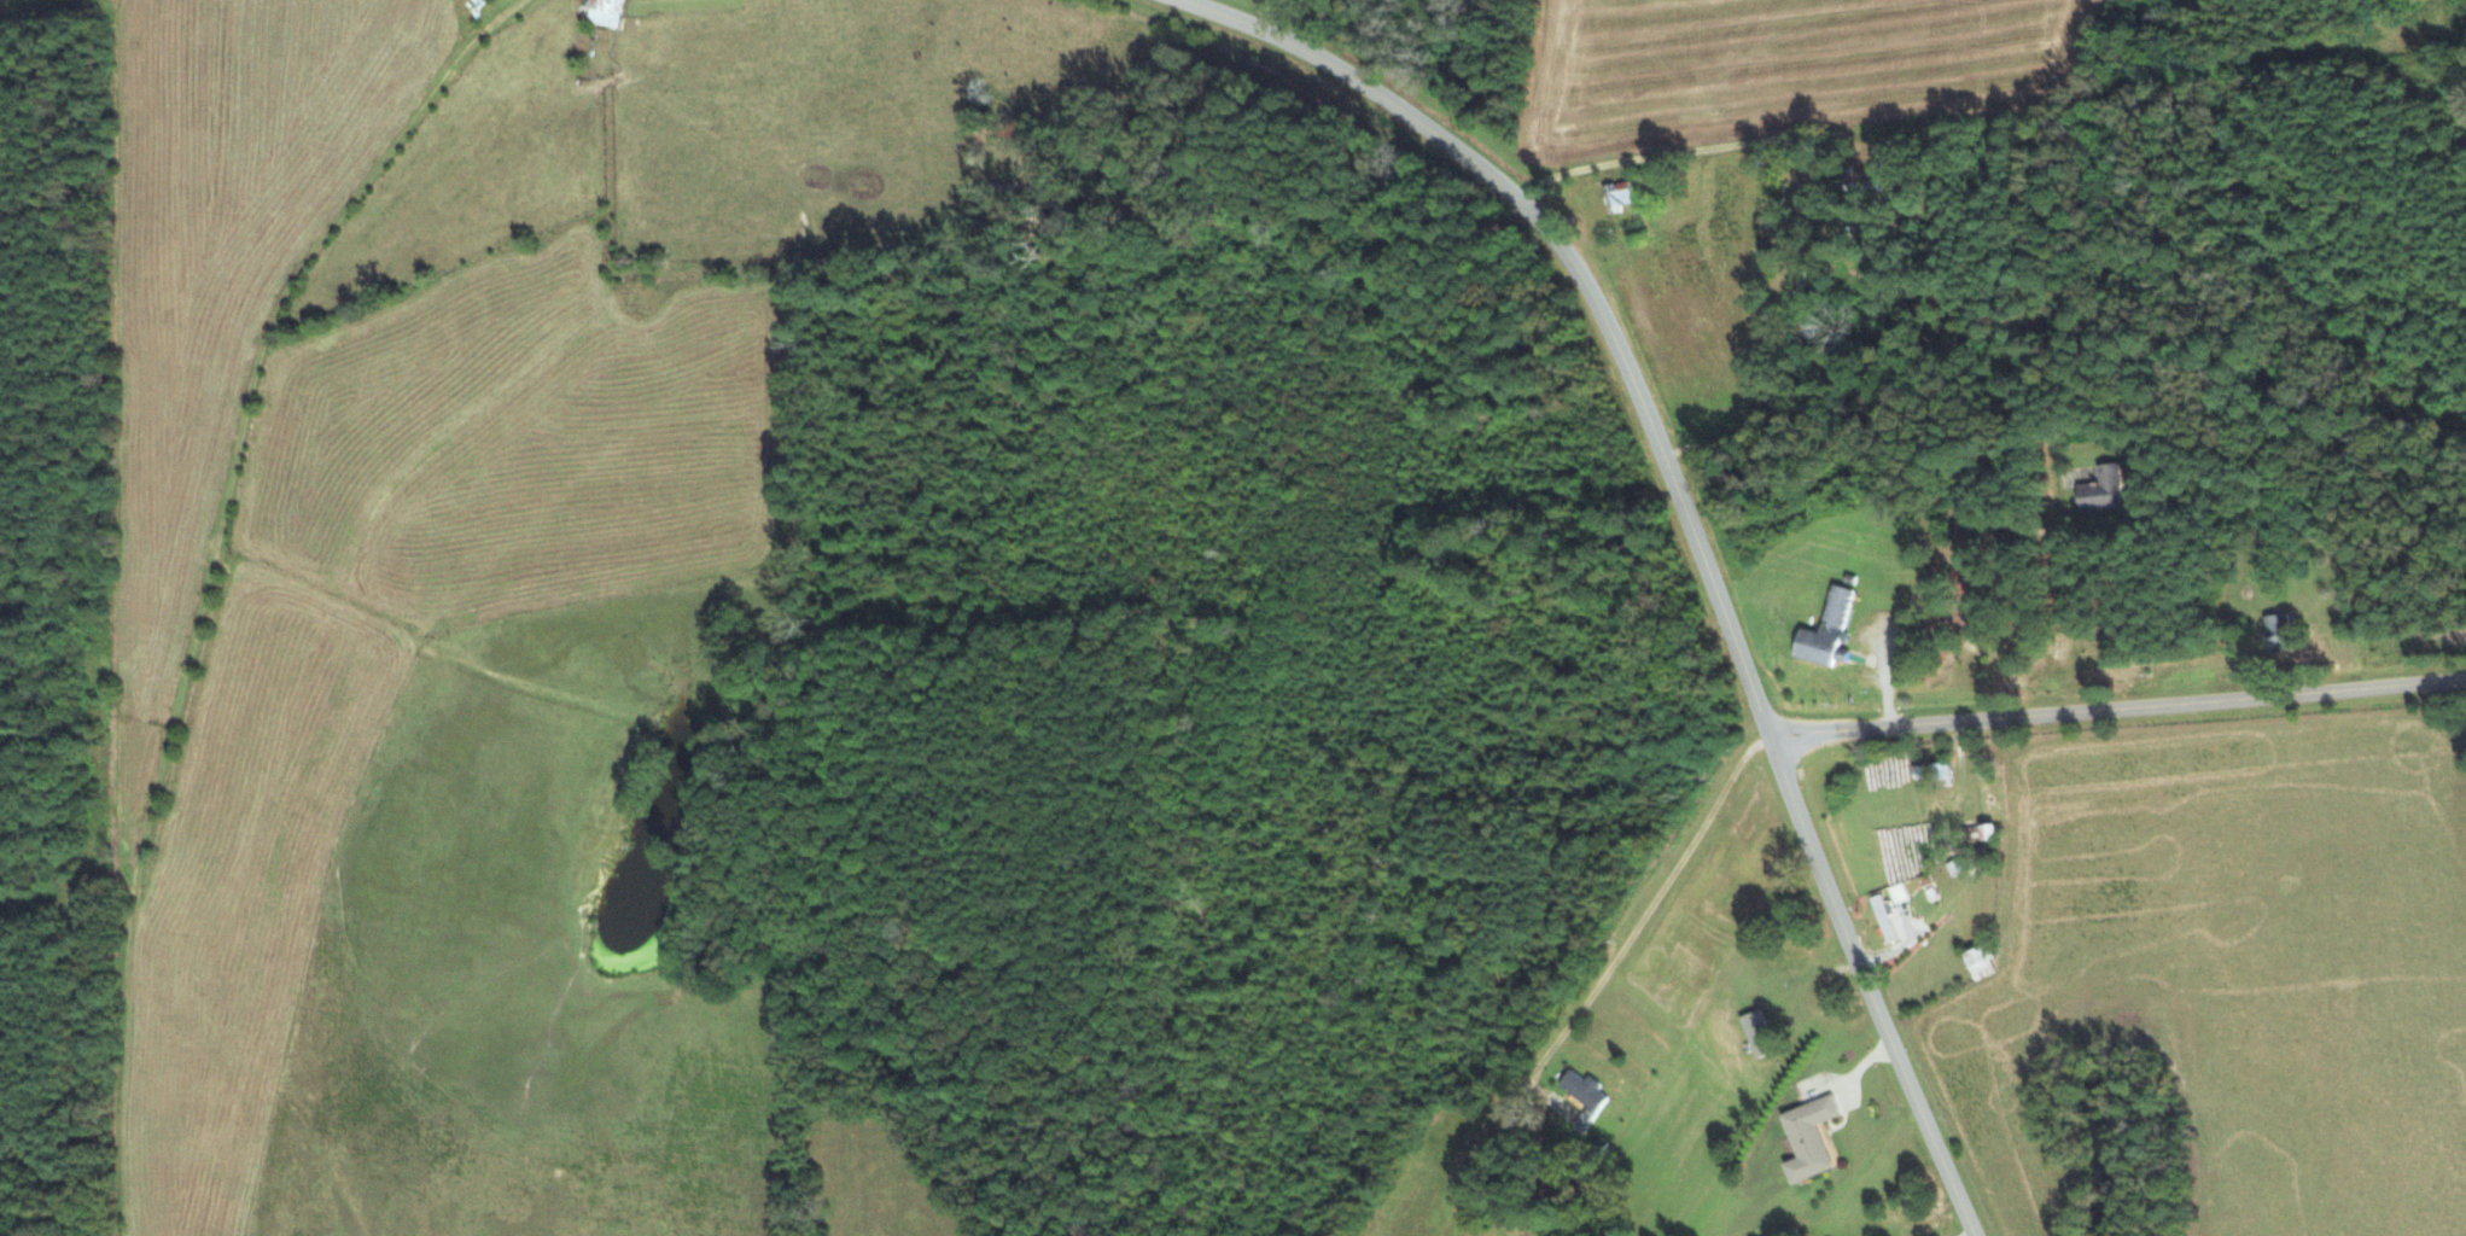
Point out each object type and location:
building: (604, 12)
building: (1617, 196)
building: (2100, 490)
road: (1683, 508)
building: (2275, 630)
building: (1825, 631)
road: (1884, 672)
road: (2117, 709)
building: (1932, 772)
building: (1980, 833)
road: (1648, 911)
building: (1883, 916)
building: (1980, 961)
building: (1757, 1034)
building: (1584, 1091)
building: (1808, 1138)

